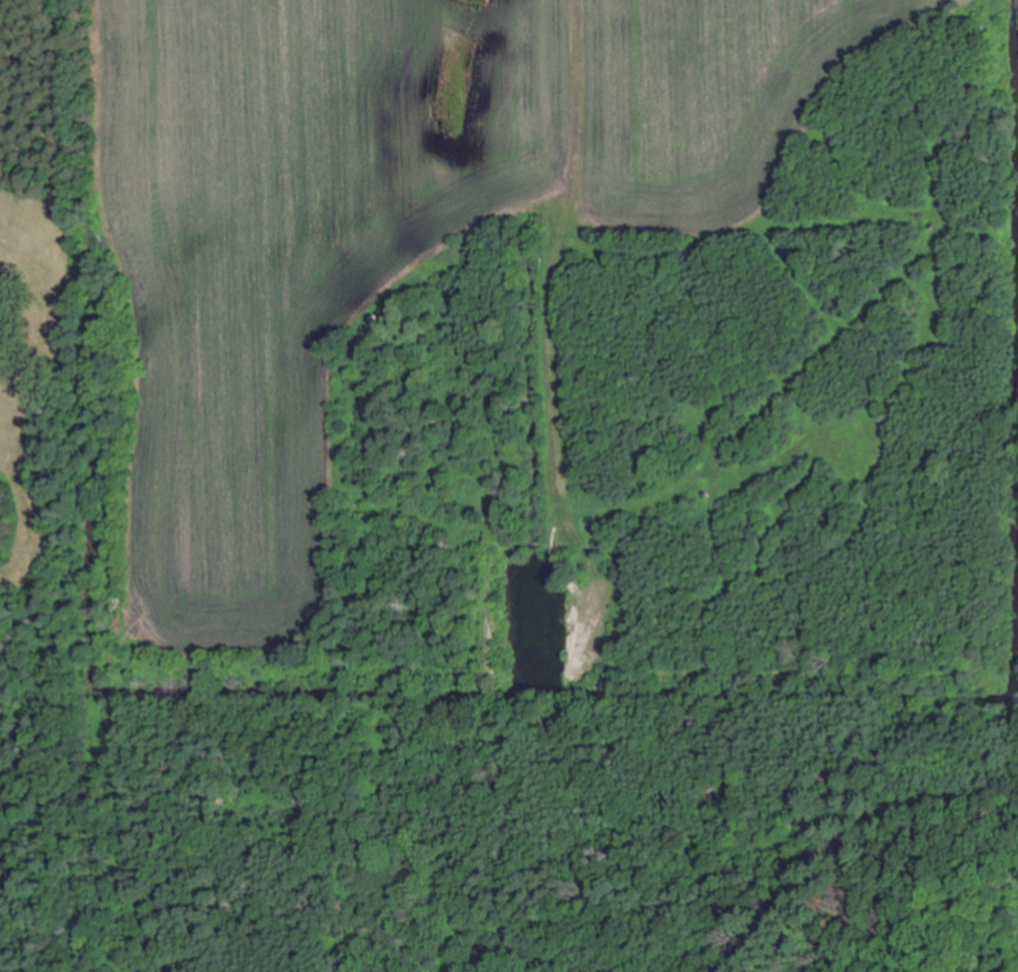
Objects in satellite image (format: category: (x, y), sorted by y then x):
building: (353, 507)

